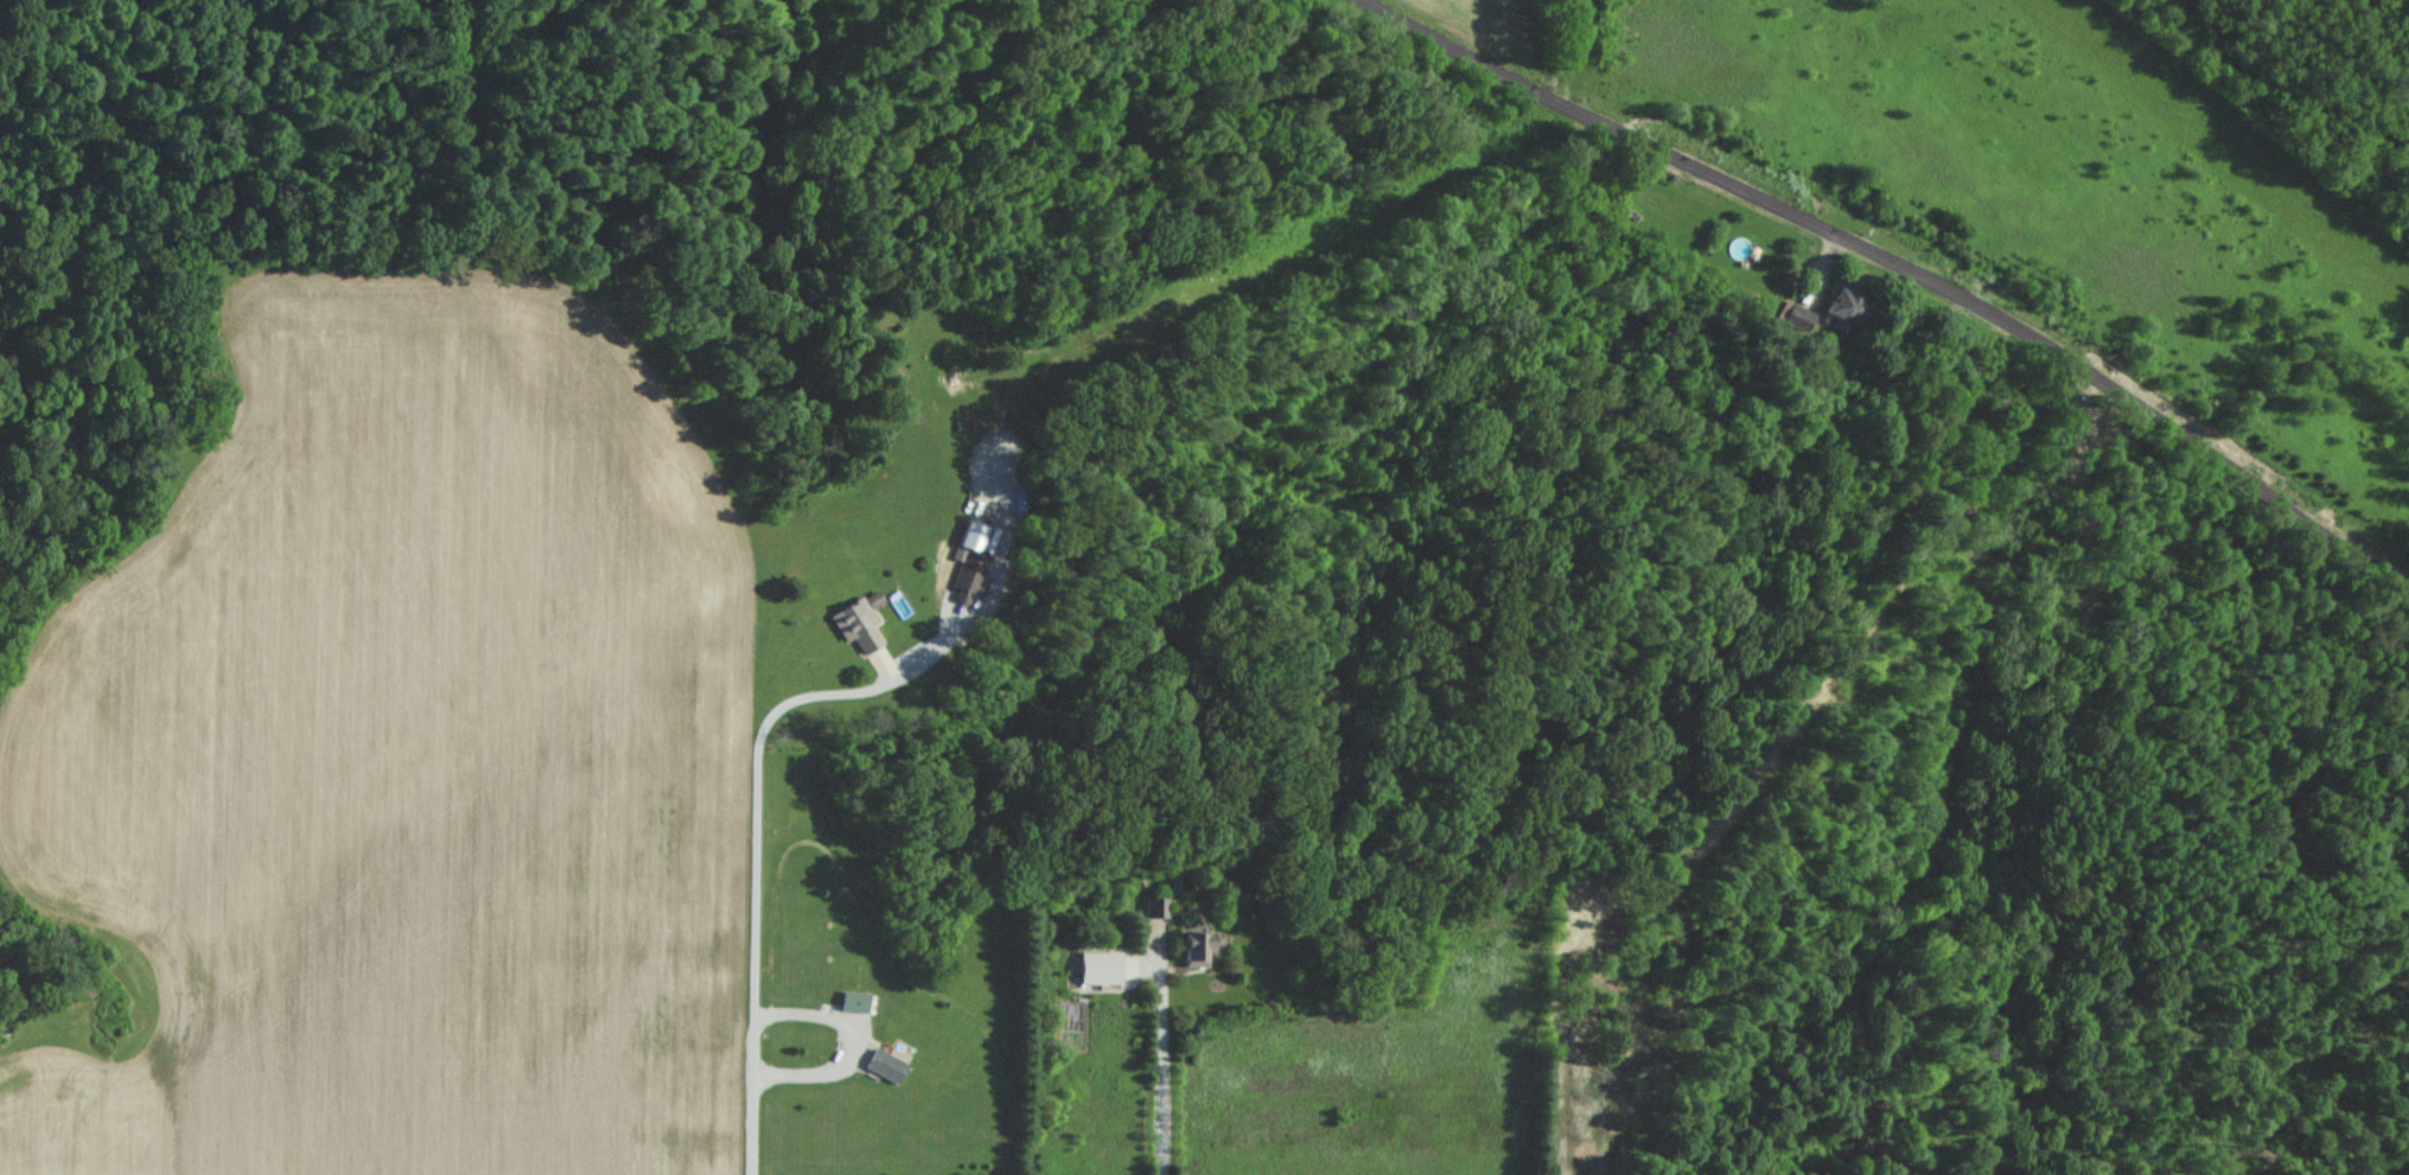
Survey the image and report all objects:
road: (1894, 270)
building: (1847, 307)
building: (1799, 315)
building: (854, 622)
road: (754, 825)
building: (1193, 947)
building: (1095, 966)
building: (859, 1000)
road: (1148, 1048)
building: (890, 1065)

